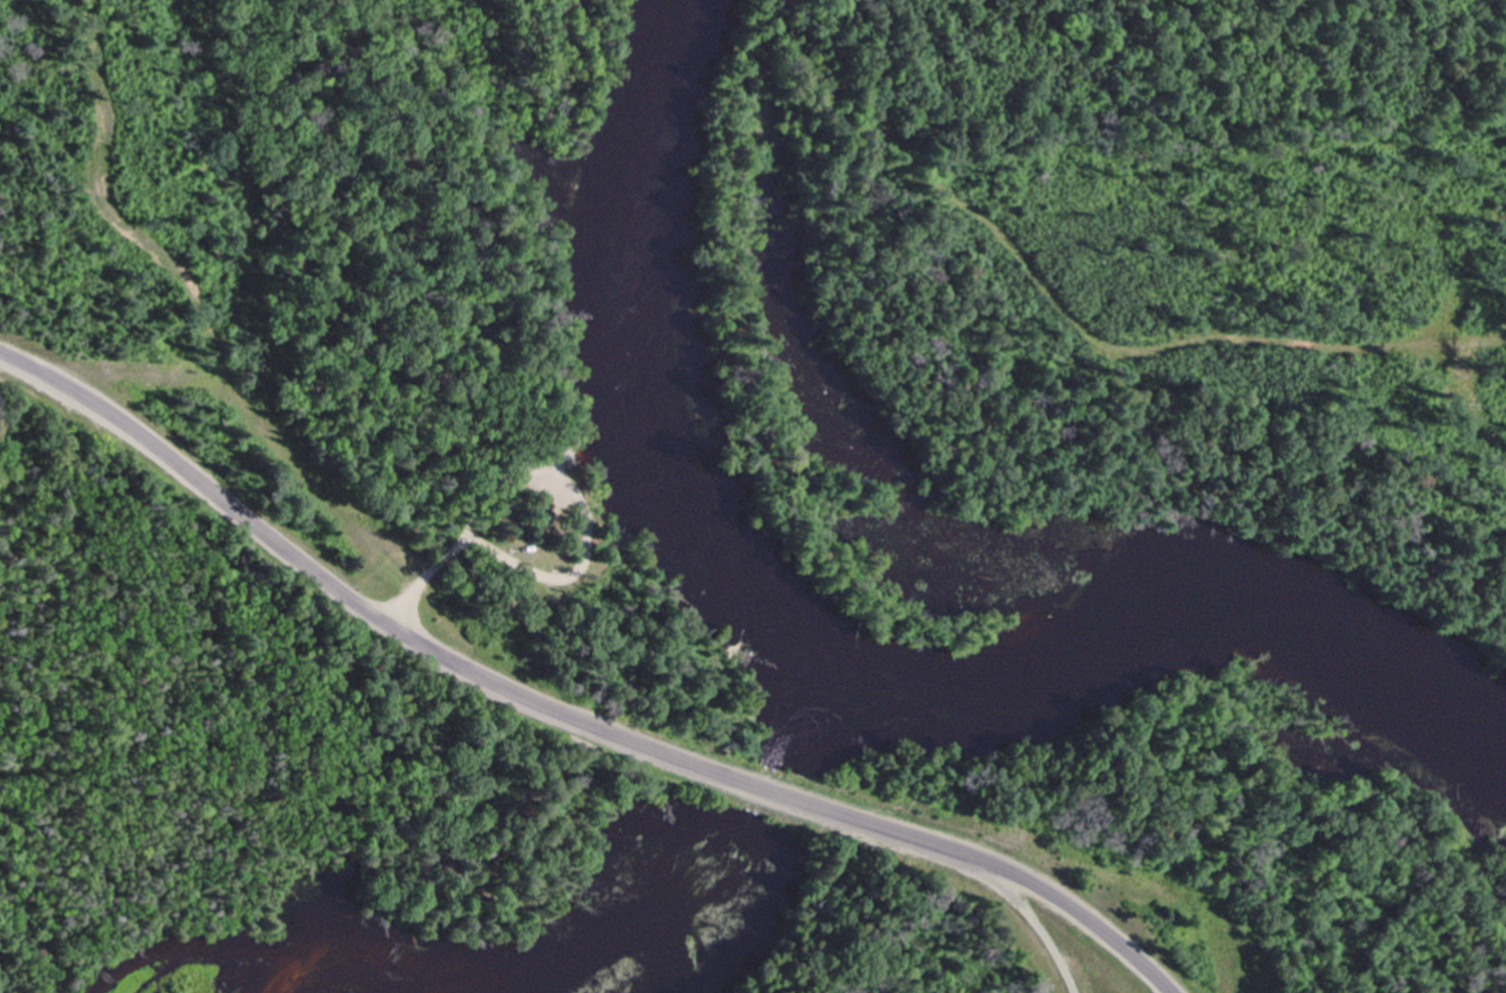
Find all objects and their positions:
road: (464, 535)
river: (832, 671)
road: (567, 713)
river: (817, 727)
river: (766, 790)
river: (666, 919)

